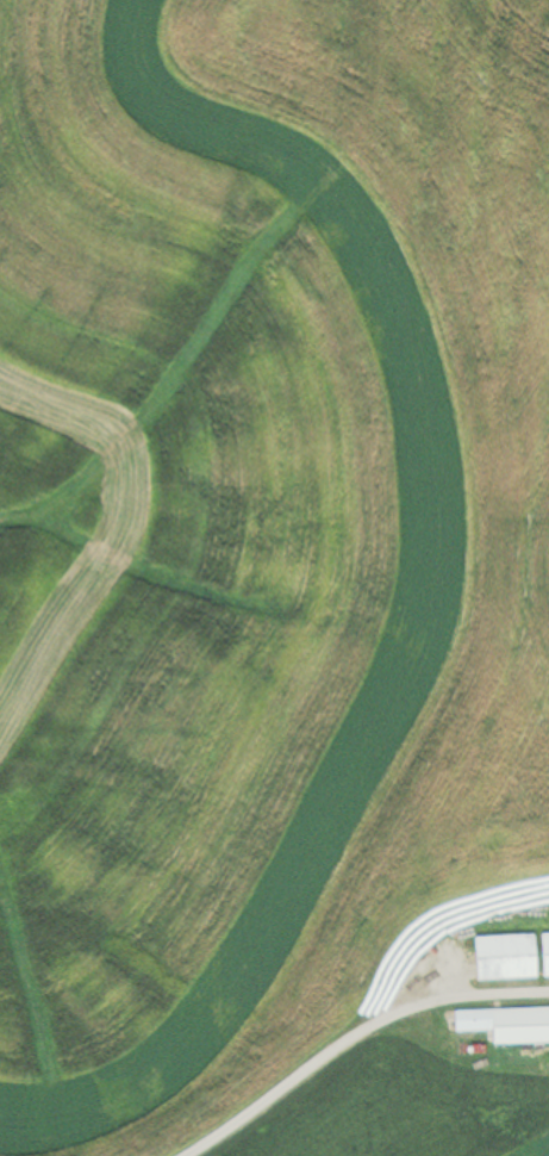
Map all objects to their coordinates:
building: (543, 953)
building: (501, 957)
building: (505, 1024)
road: (349, 1033)

